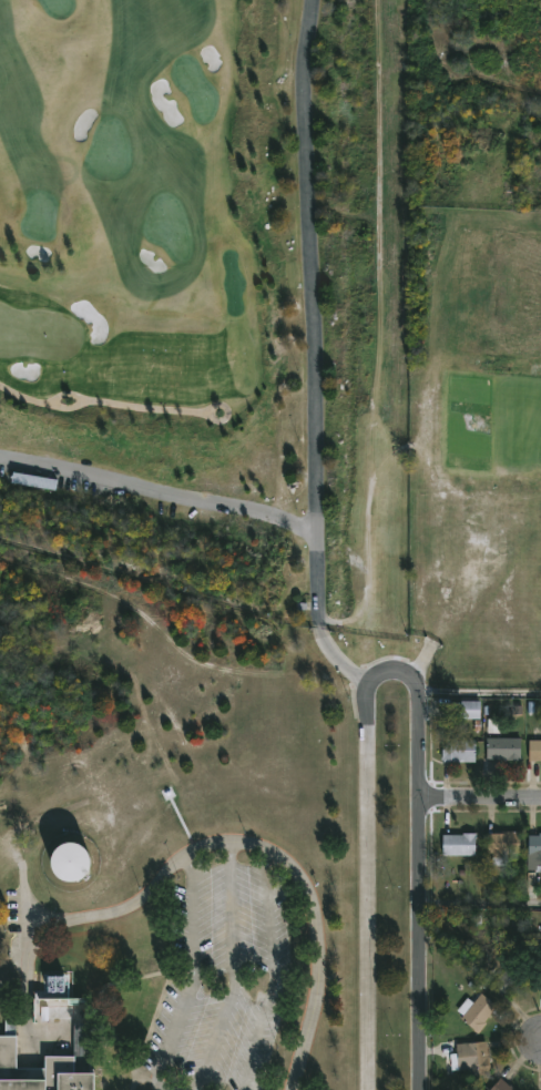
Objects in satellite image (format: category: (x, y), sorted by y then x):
park: (59, 8)
road: (449, 84)
park: (195, 89)
park: (110, 150)
park: (40, 216)
park: (169, 227)
park: (167, 247)
park: (233, 283)
park: (39, 334)
road: (315, 348)
road: (160, 477)
building: (32, 480)
road: (391, 668)
road: (481, 694)
building: (462, 709)
building: (501, 748)
building: (533, 750)
building: (457, 751)
road: (480, 796)
building: (458, 843)
building: (501, 845)
building: (533, 850)
road: (275, 859)
building: (70, 863)
road: (22, 887)
road: (481, 906)
building: (540, 969)
road: (235, 971)
road: (268, 975)
building: (508, 979)
road: (192, 982)
parking lot: (223, 987)
building: (474, 1010)
road: (540, 1041)
building: (469, 1057)
building: (39, 1071)
building: (500, 1086)

